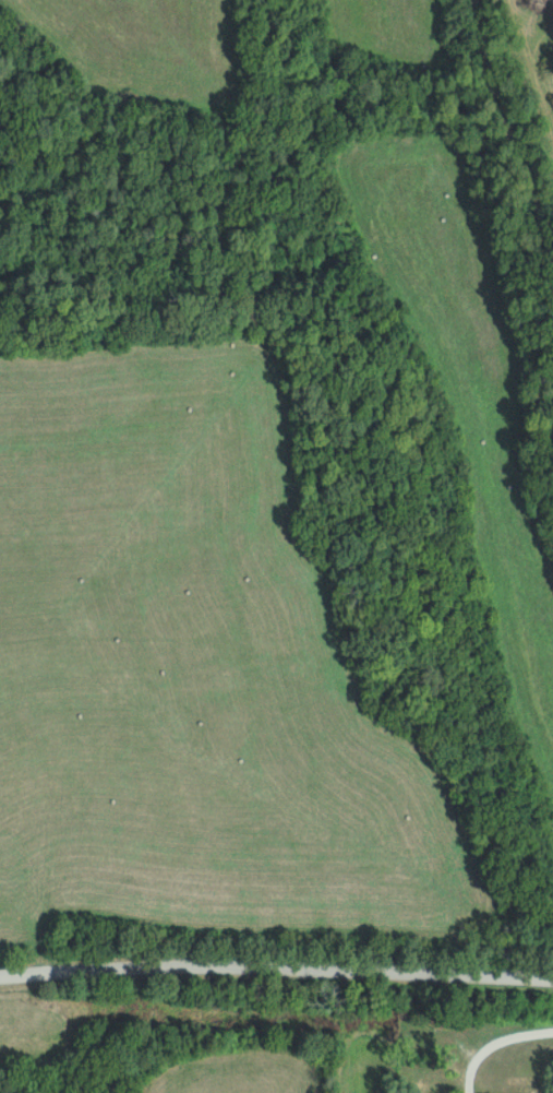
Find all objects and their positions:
road: (276, 961)
road: (492, 1041)

